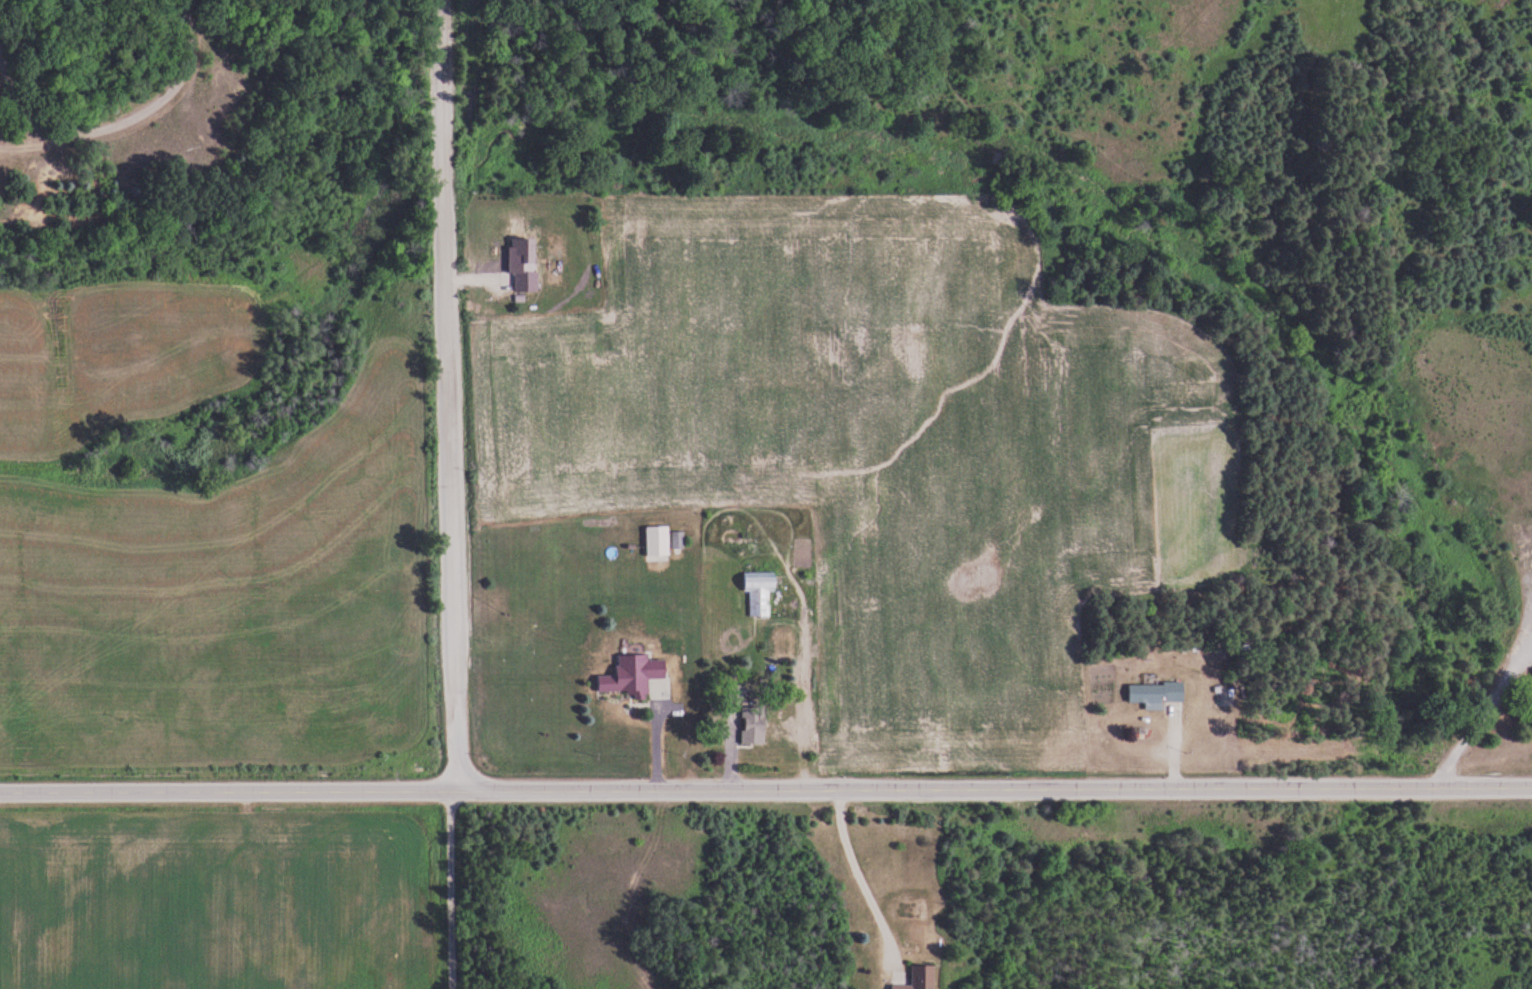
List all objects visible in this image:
road: (137, 115)
building: (524, 251)
building: (527, 282)
road: (448, 396)
road: (400, 416)
building: (679, 540)
building: (658, 543)
building: (760, 591)
building: (634, 675)
building: (1158, 693)
building: (754, 724)
road: (766, 790)
road: (862, 873)
road: (461, 891)
building: (922, 978)

